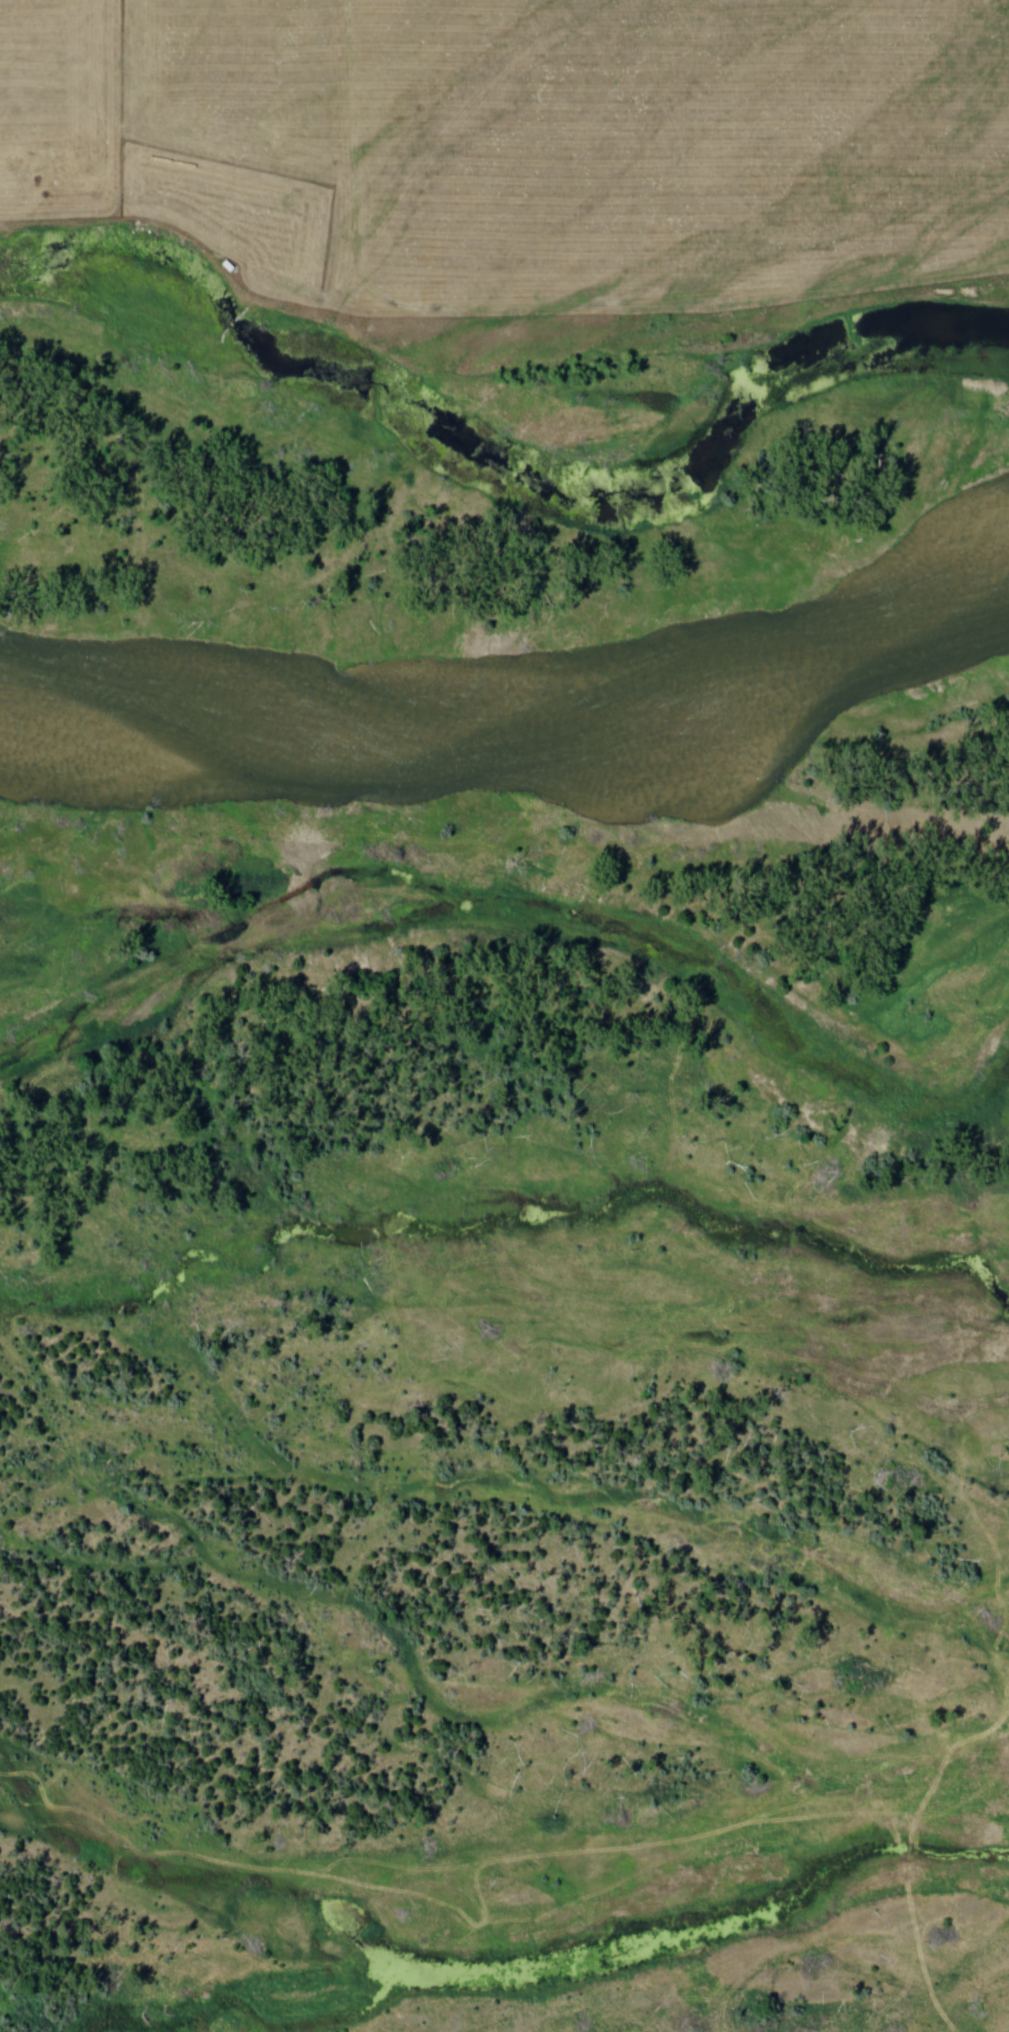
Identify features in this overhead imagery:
river: (516, 712)

